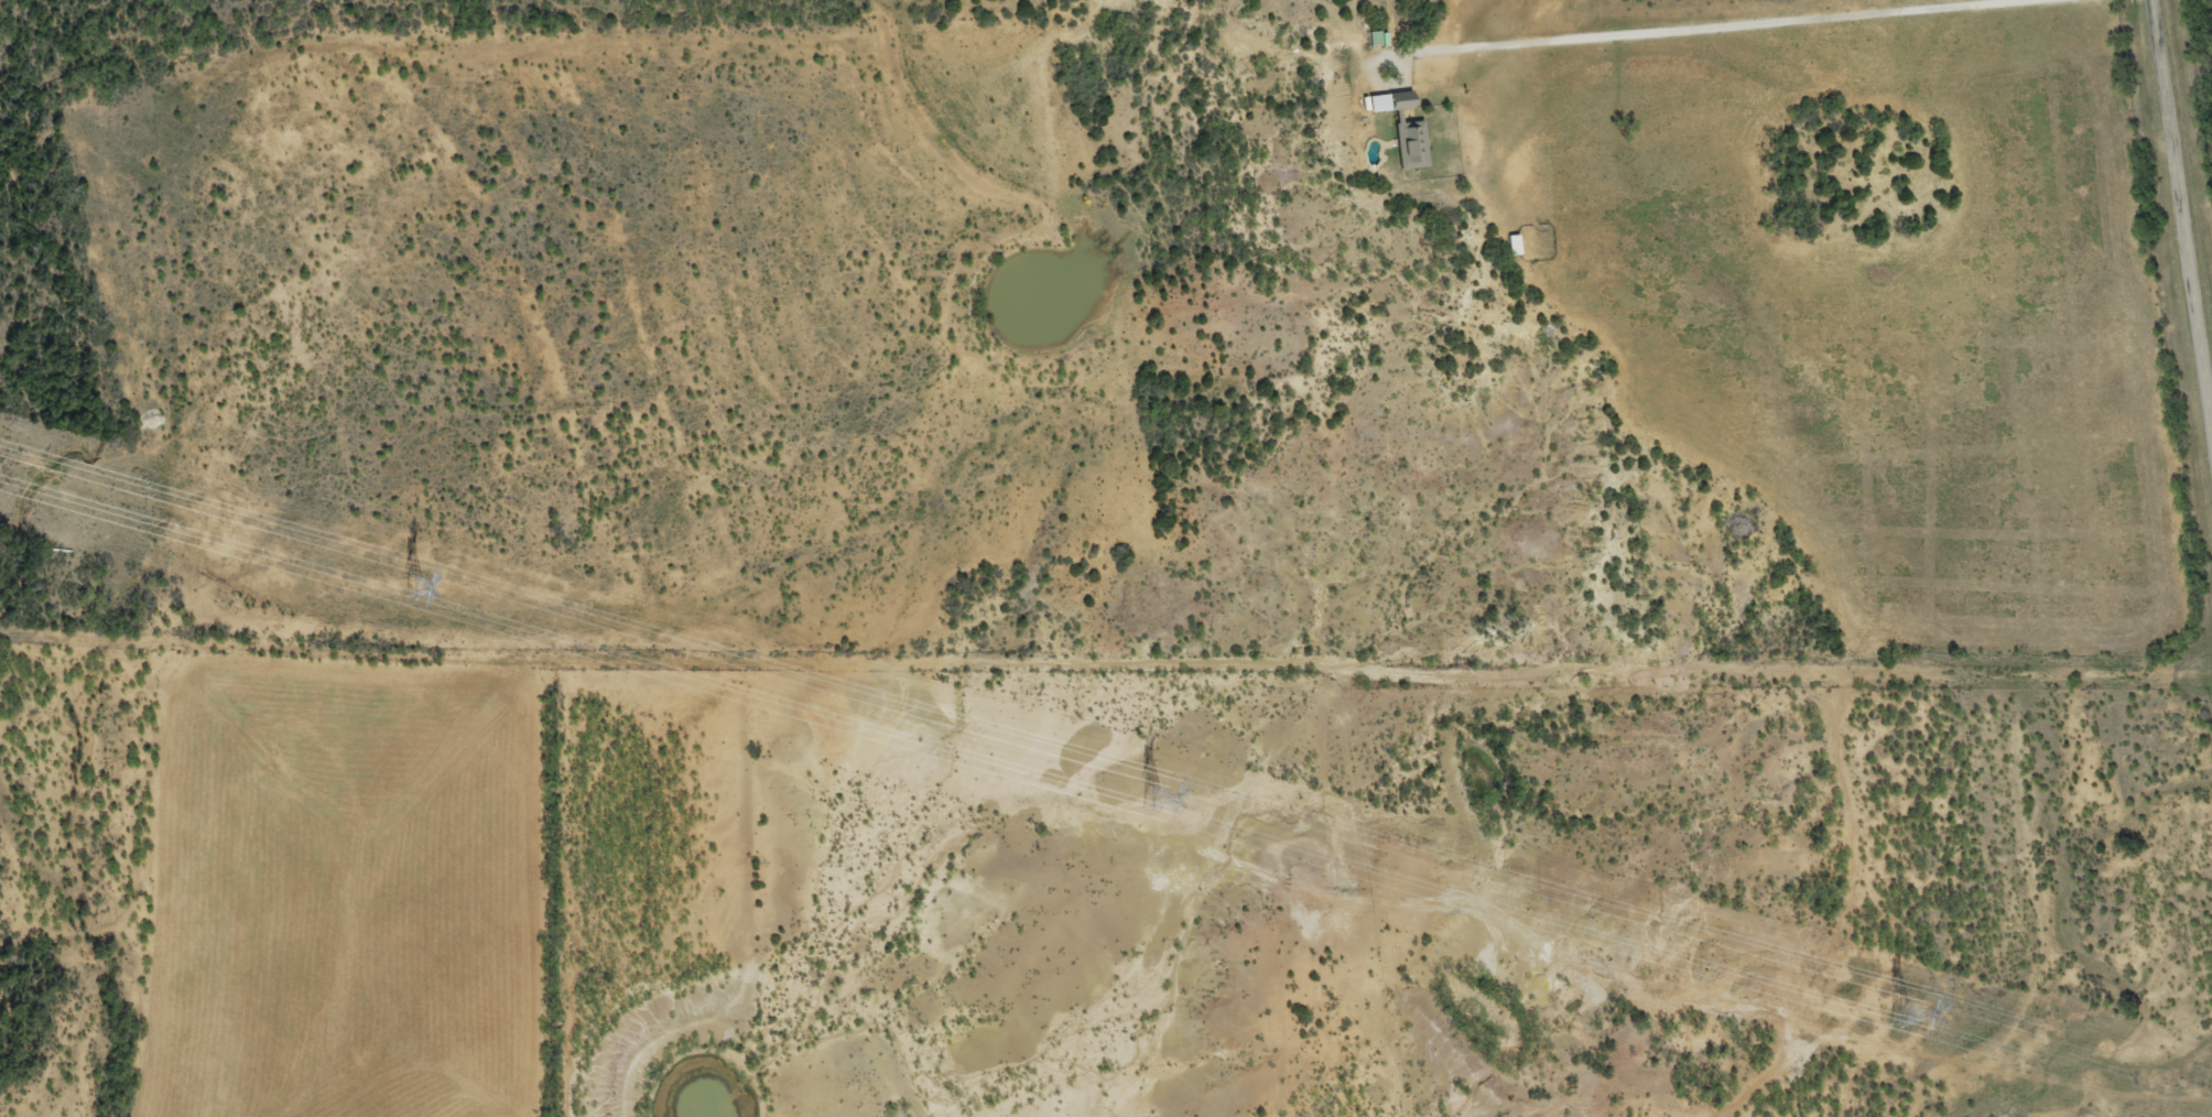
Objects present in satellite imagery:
building: (1374, 39)
building: (1397, 100)
building: (1408, 143)
road: (2183, 199)
building: (1511, 246)
power tower: (409, 587)
road: (1050, 654)
power tower: (1148, 799)
power tower: (1894, 1011)

